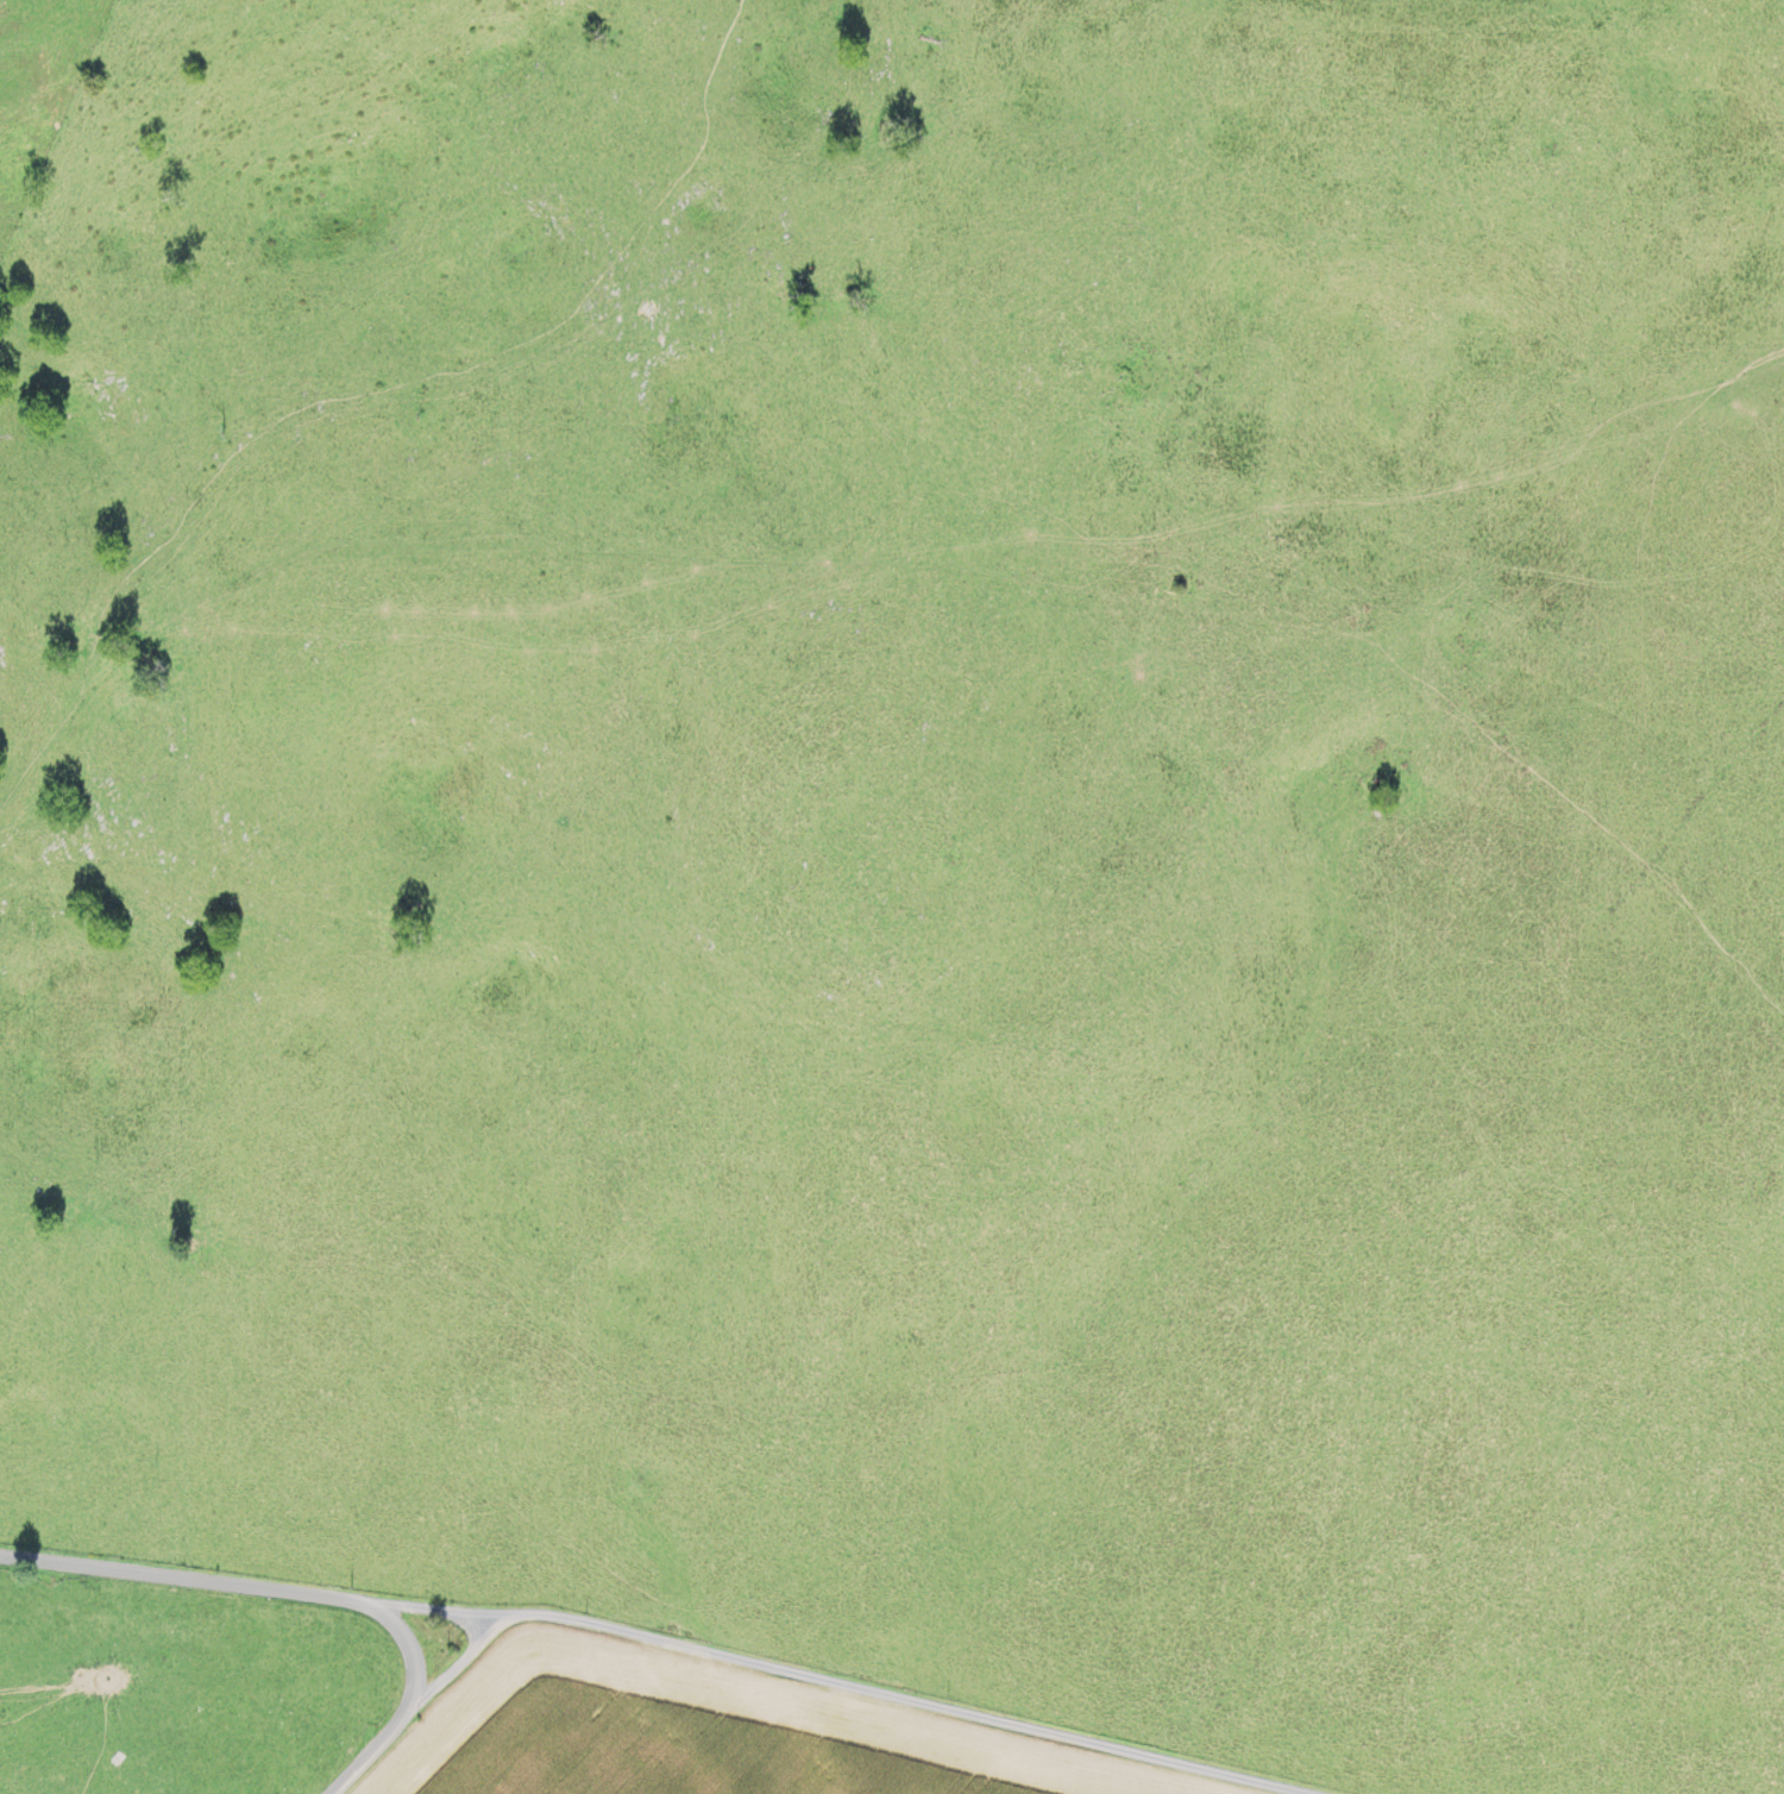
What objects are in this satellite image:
road: (263, 1588)
road: (406, 1643)
road: (420, 1698)
road: (981, 1702)

